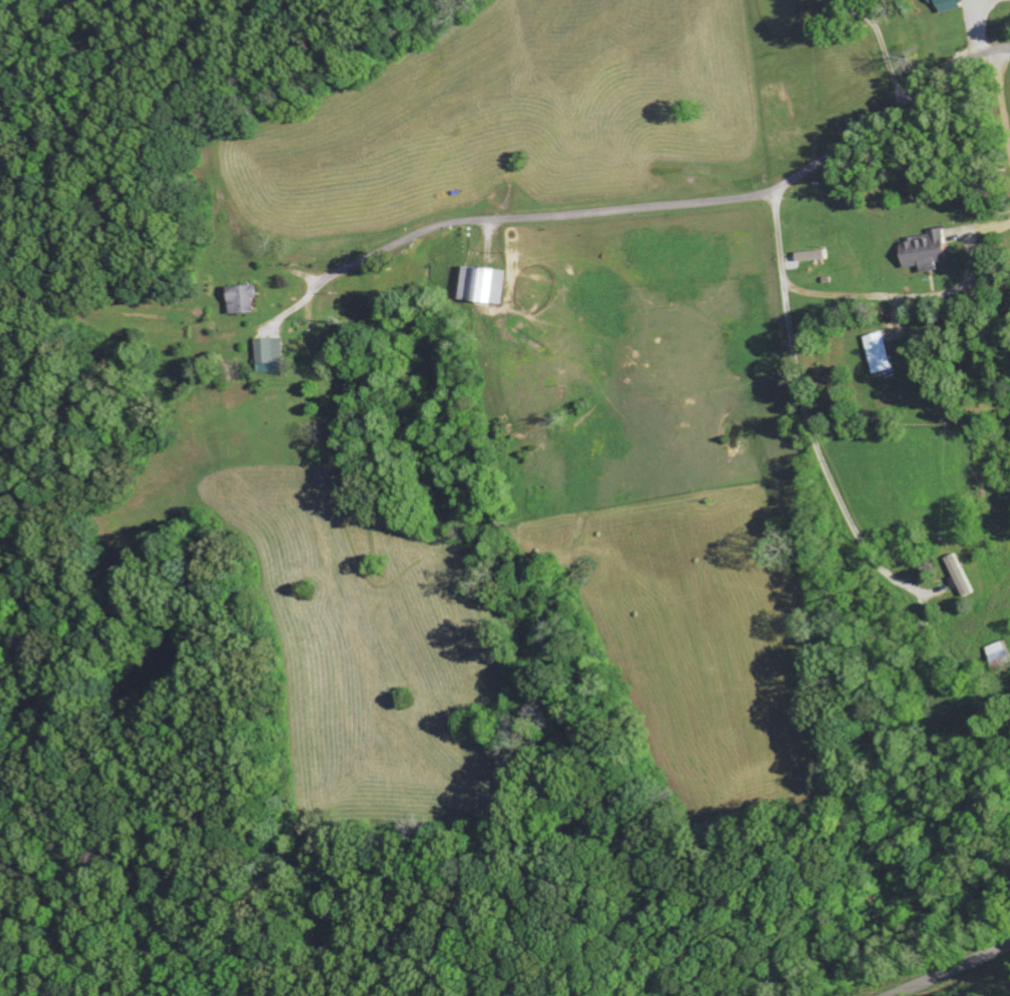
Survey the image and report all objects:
building: (946, 0)
road: (686, 204)
building: (932, 250)
building: (490, 284)
building: (247, 299)
building: (885, 353)
building: (272, 354)
road: (802, 394)
building: (966, 575)
building: (1004, 652)
road: (953, 971)

